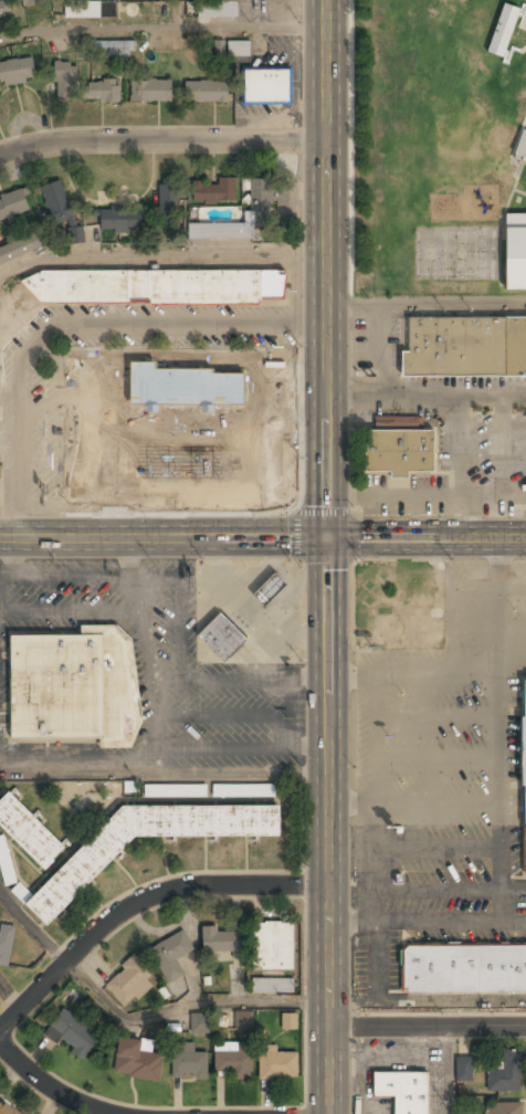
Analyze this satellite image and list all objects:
building: (33, 2)
building: (217, 10)
building: (91, 11)
building: (3, 12)
road: (161, 25)
building: (503, 31)
building: (113, 50)
building: (239, 50)
building: (453, 71)
building: (17, 72)
building: (65, 82)
building: (267, 86)
building: (103, 92)
building: (151, 92)
building: (207, 93)
road: (160, 138)
building: (520, 147)
building: (214, 191)
building: (169, 200)
building: (14, 204)
building: (61, 209)
building: (260, 213)
building: (122, 221)
building: (20, 250)
building: (515, 251)
building: (135, 291)
road: (425, 305)
building: (464, 348)
road: (378, 351)
road: (424, 397)
building: (190, 448)
building: (399, 452)
road: (460, 467)
road: (425, 495)
road: (262, 537)
traffic signals: (326, 538)
road: (326, 557)
building: (270, 591)
building: (221, 639)
building: (74, 686)
building: (524, 774)
building: (243, 789)
building: (175, 790)
building: (28, 832)
building: (6, 863)
building: (80, 870)
building: (21, 892)
road: (138, 901)
road: (31, 926)
building: (222, 942)
building: (6, 944)
building: (274, 947)
building: (171, 956)
building: (463, 969)
building: (130, 984)
building: (274, 986)
road: (185, 1010)
building: (243, 1019)
building: (290, 1021)
building: (199, 1024)
road: (427, 1026)
building: (73, 1034)
building: (137, 1060)
building: (233, 1062)
building: (189, 1063)
building: (277, 1063)
building: (463, 1068)
road: (453, 1070)
building: (506, 1073)
road: (48, 1085)
building: (403, 1091)
building: (501, 1108)
building: (6, 1110)

